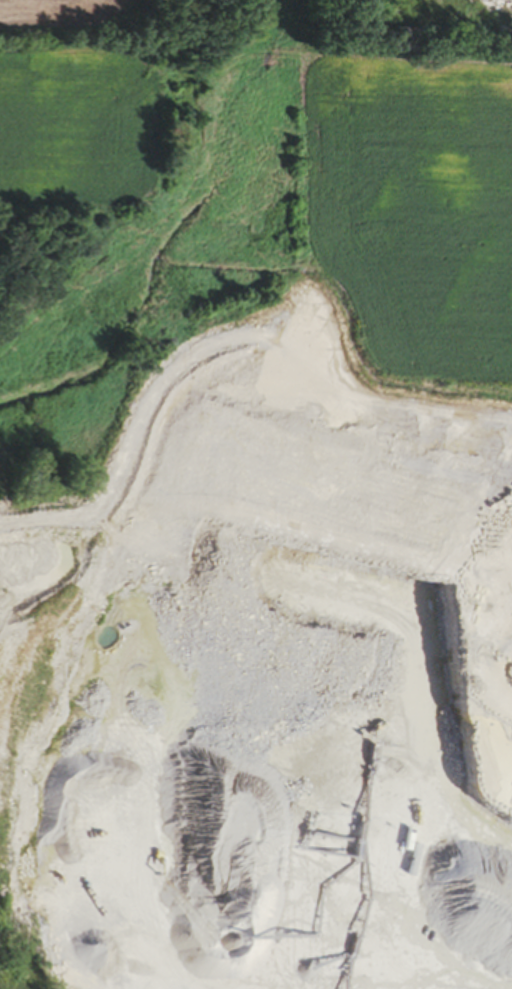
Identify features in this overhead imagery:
quarry: (410, 34)
quarry: (203, 784)

